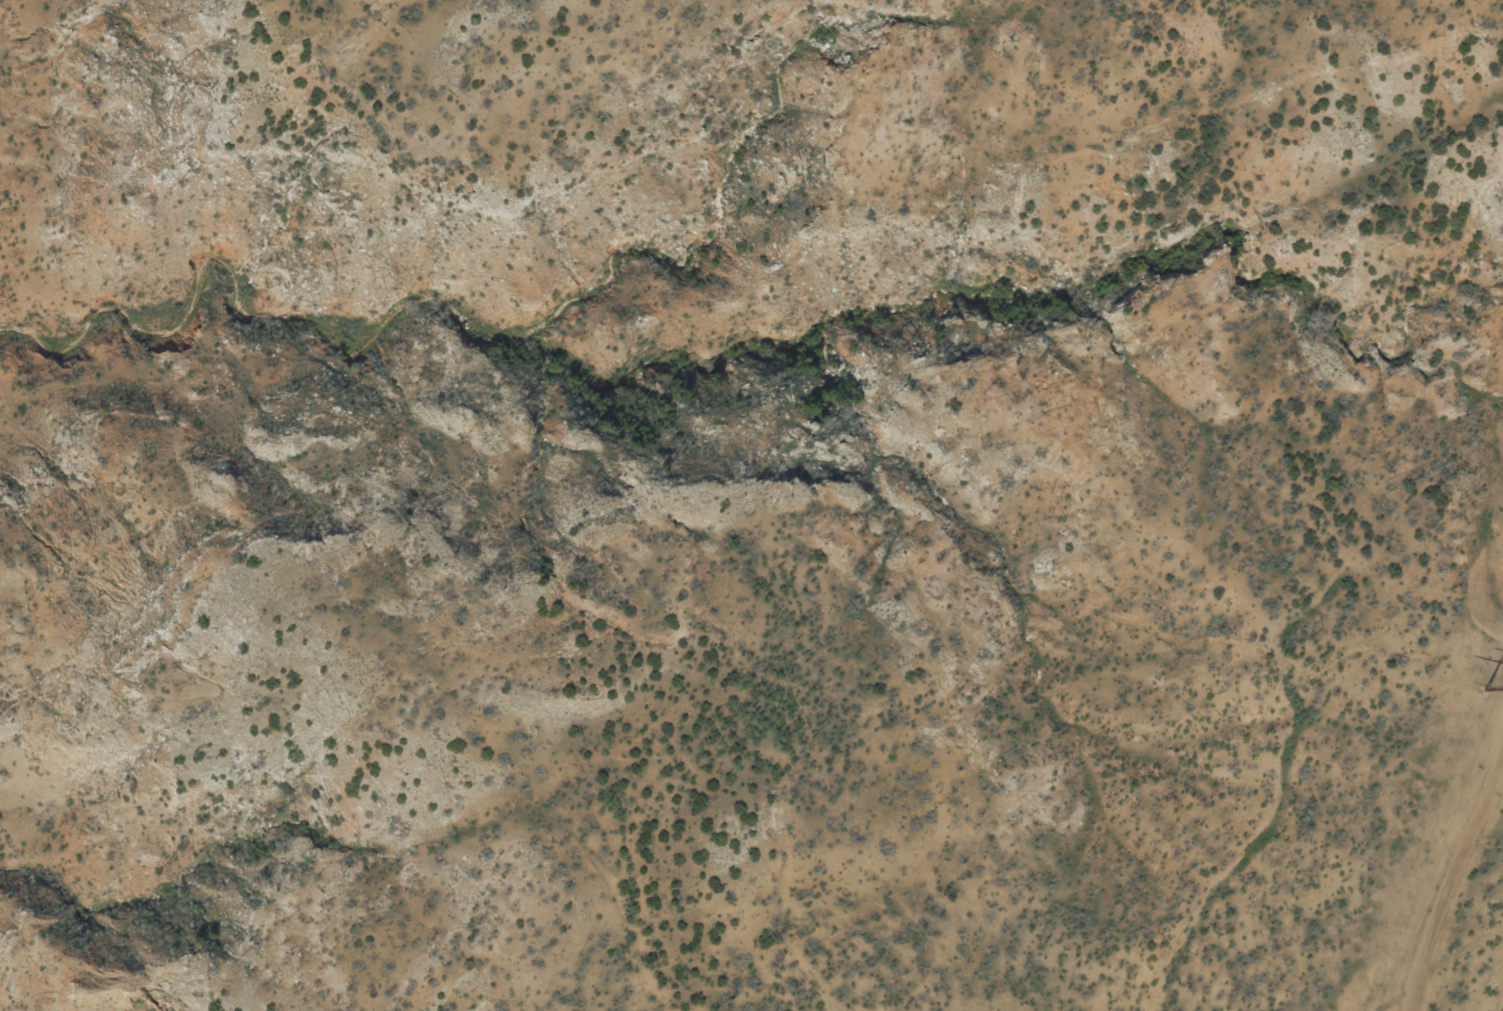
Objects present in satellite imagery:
power tower: (1483, 690)

